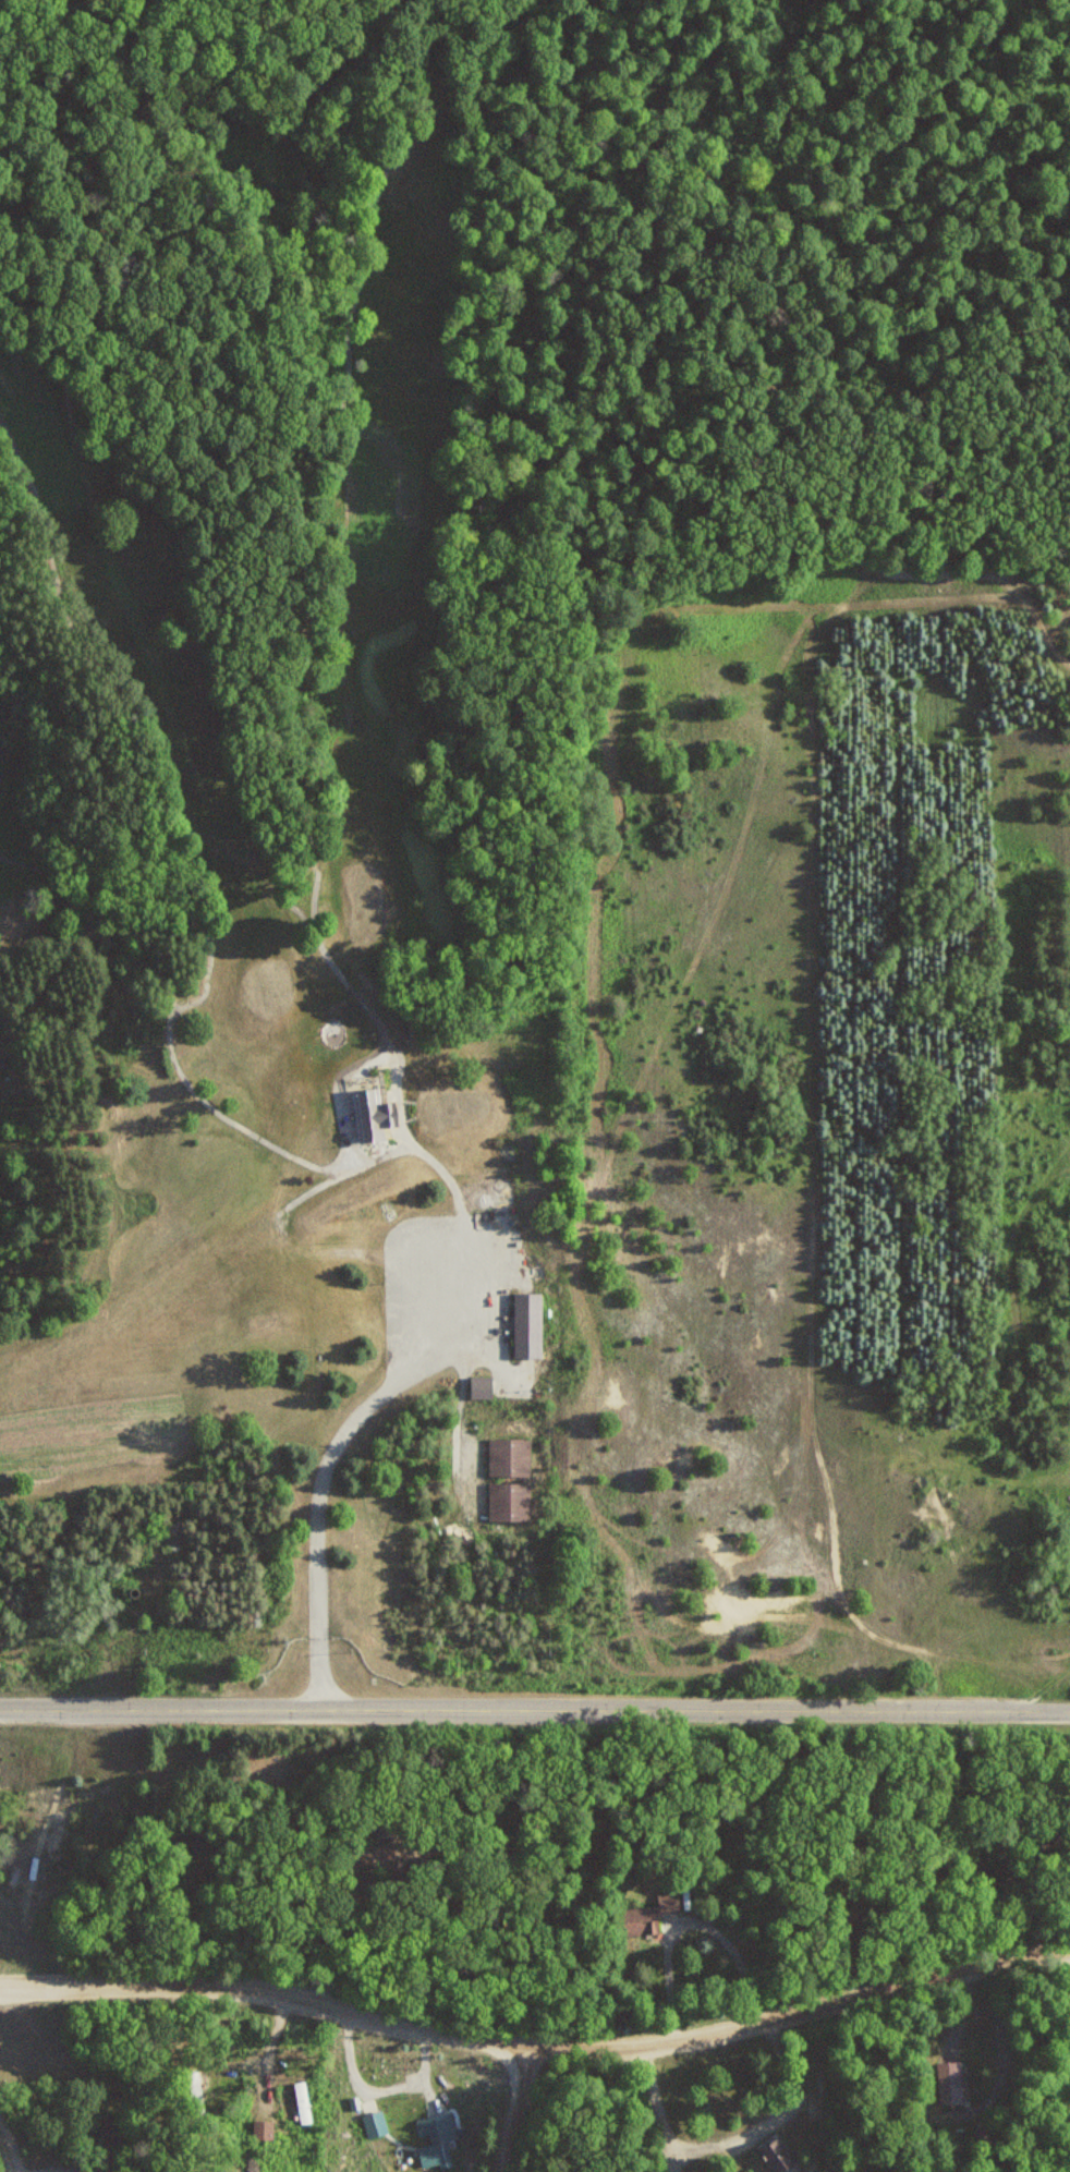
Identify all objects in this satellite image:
park: (287, 845)
building: (2, 1061)
building: (368, 1115)
parking lot: (452, 1296)
building: (528, 1324)
road: (424, 1362)
building: (482, 1387)
building: (510, 1457)
building: (510, 1502)
road: (535, 1707)
building: (200, 1842)
building: (647, 1916)
road: (536, 2043)
building: (950, 2080)
building: (196, 2096)
building: (303, 2101)
road: (513, 2108)
building: (111, 2127)
building: (439, 2141)
road: (7, 2152)
building: (779, 2156)

